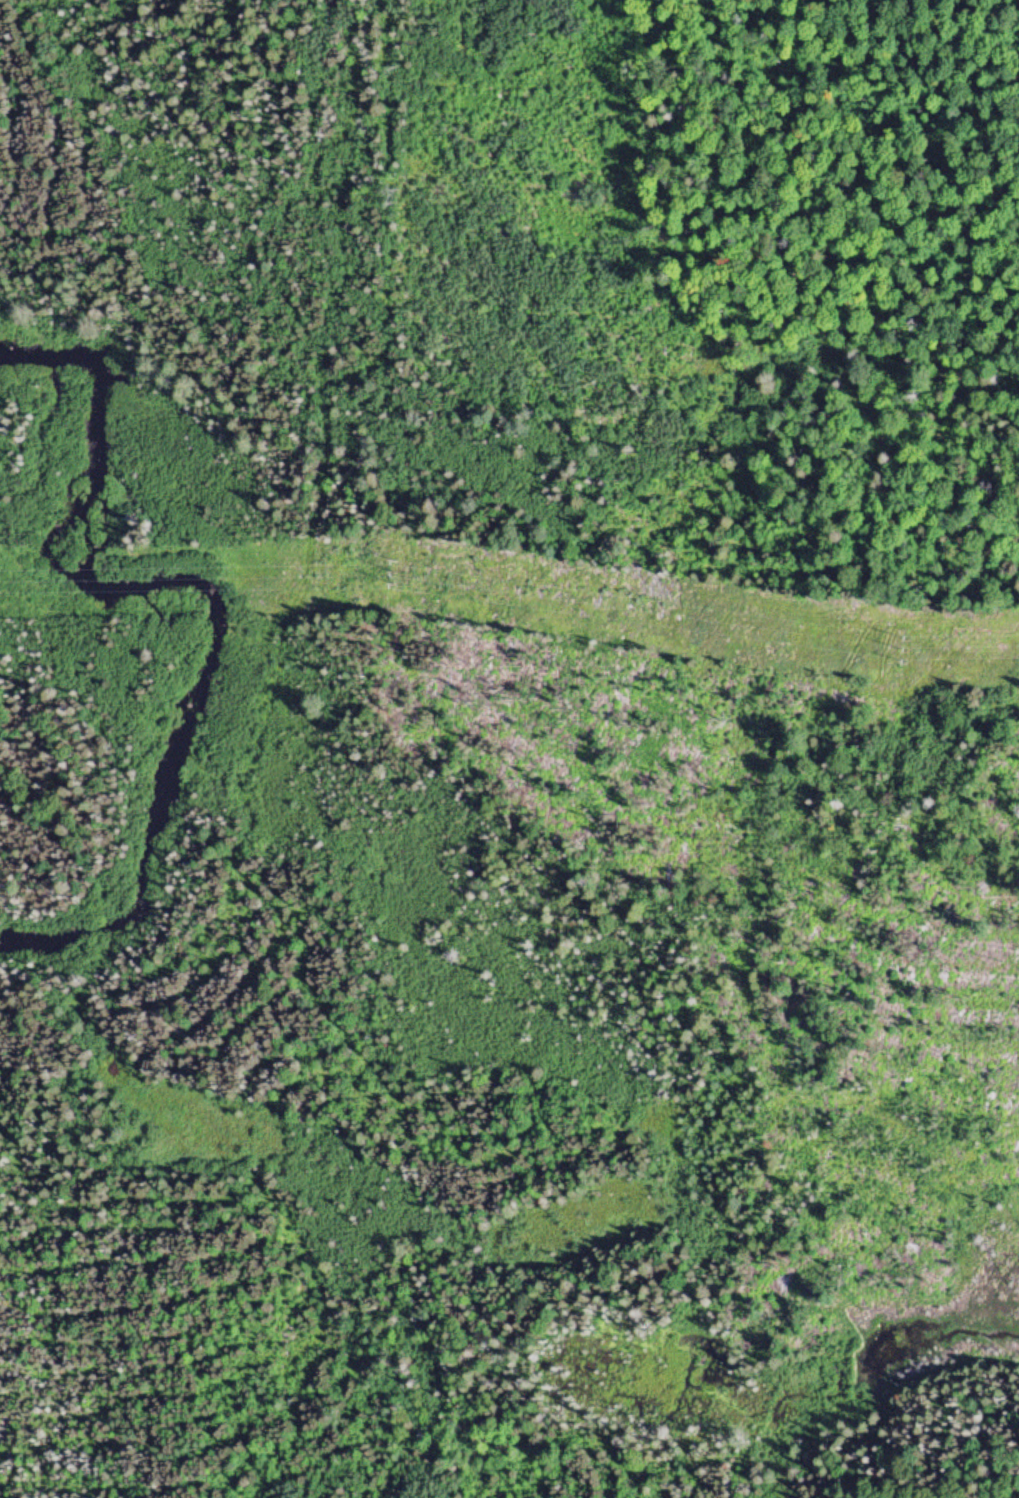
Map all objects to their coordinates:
power tower: (404, 580)
river: (192, 639)
power tower: (960, 641)

